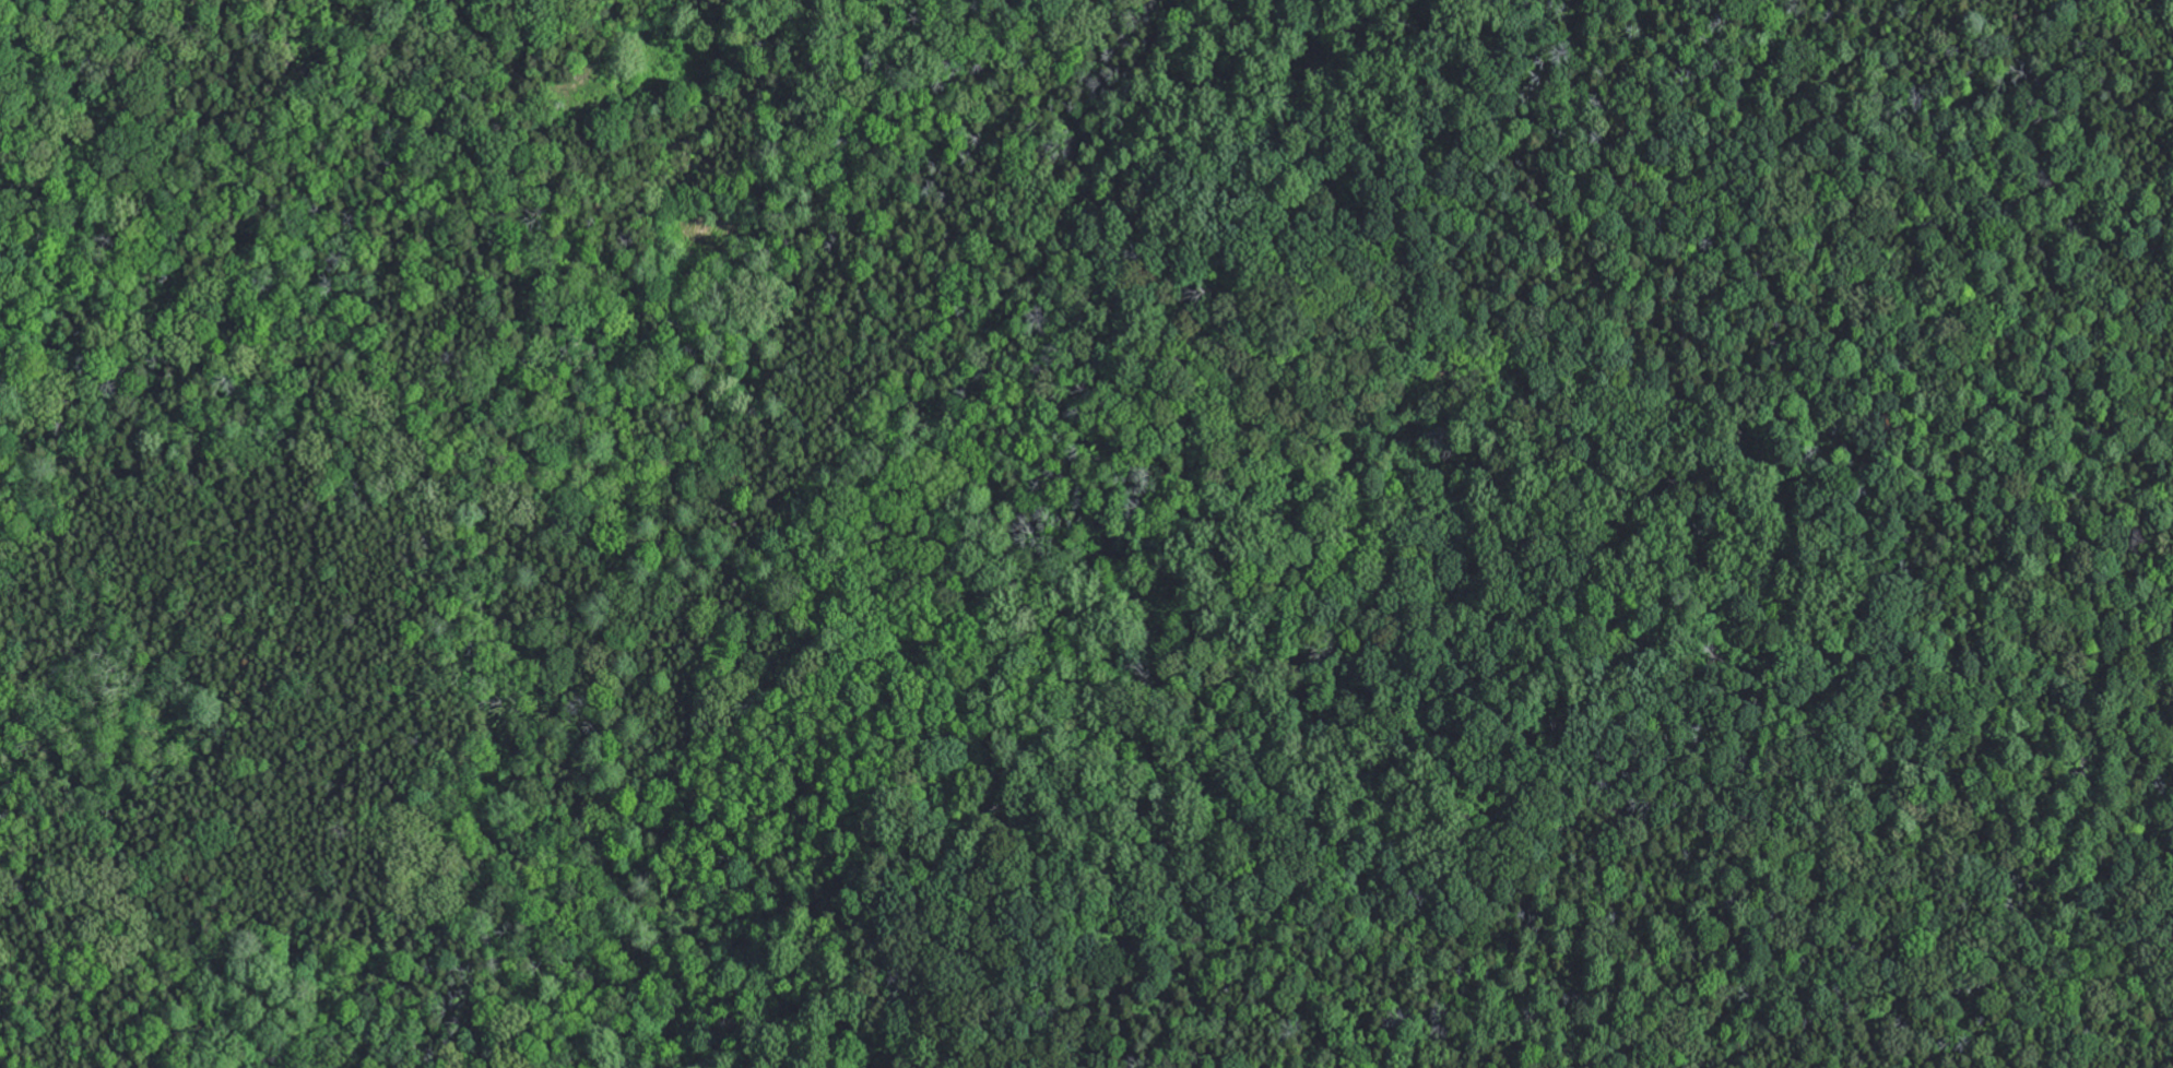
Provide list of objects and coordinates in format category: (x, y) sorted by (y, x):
road: (600, 140)
road: (446, 198)

